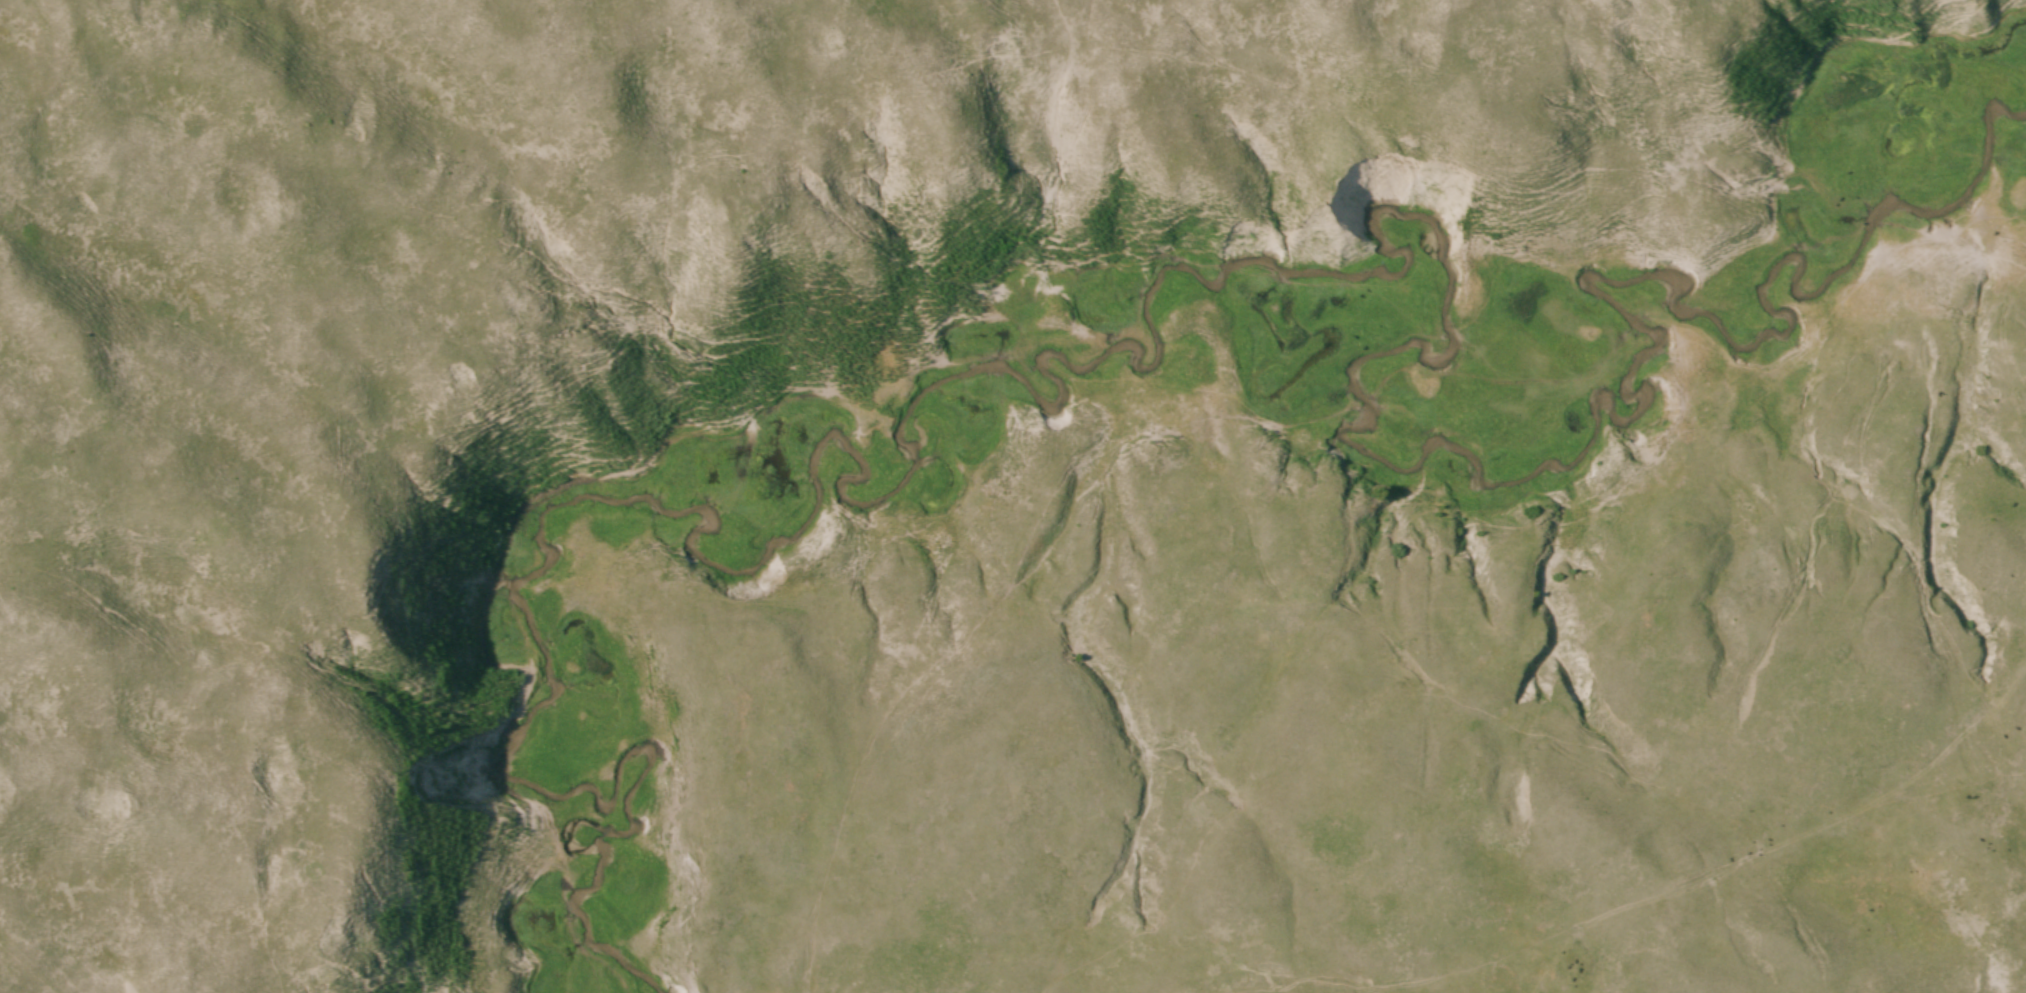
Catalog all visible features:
river: (1166, 268)

